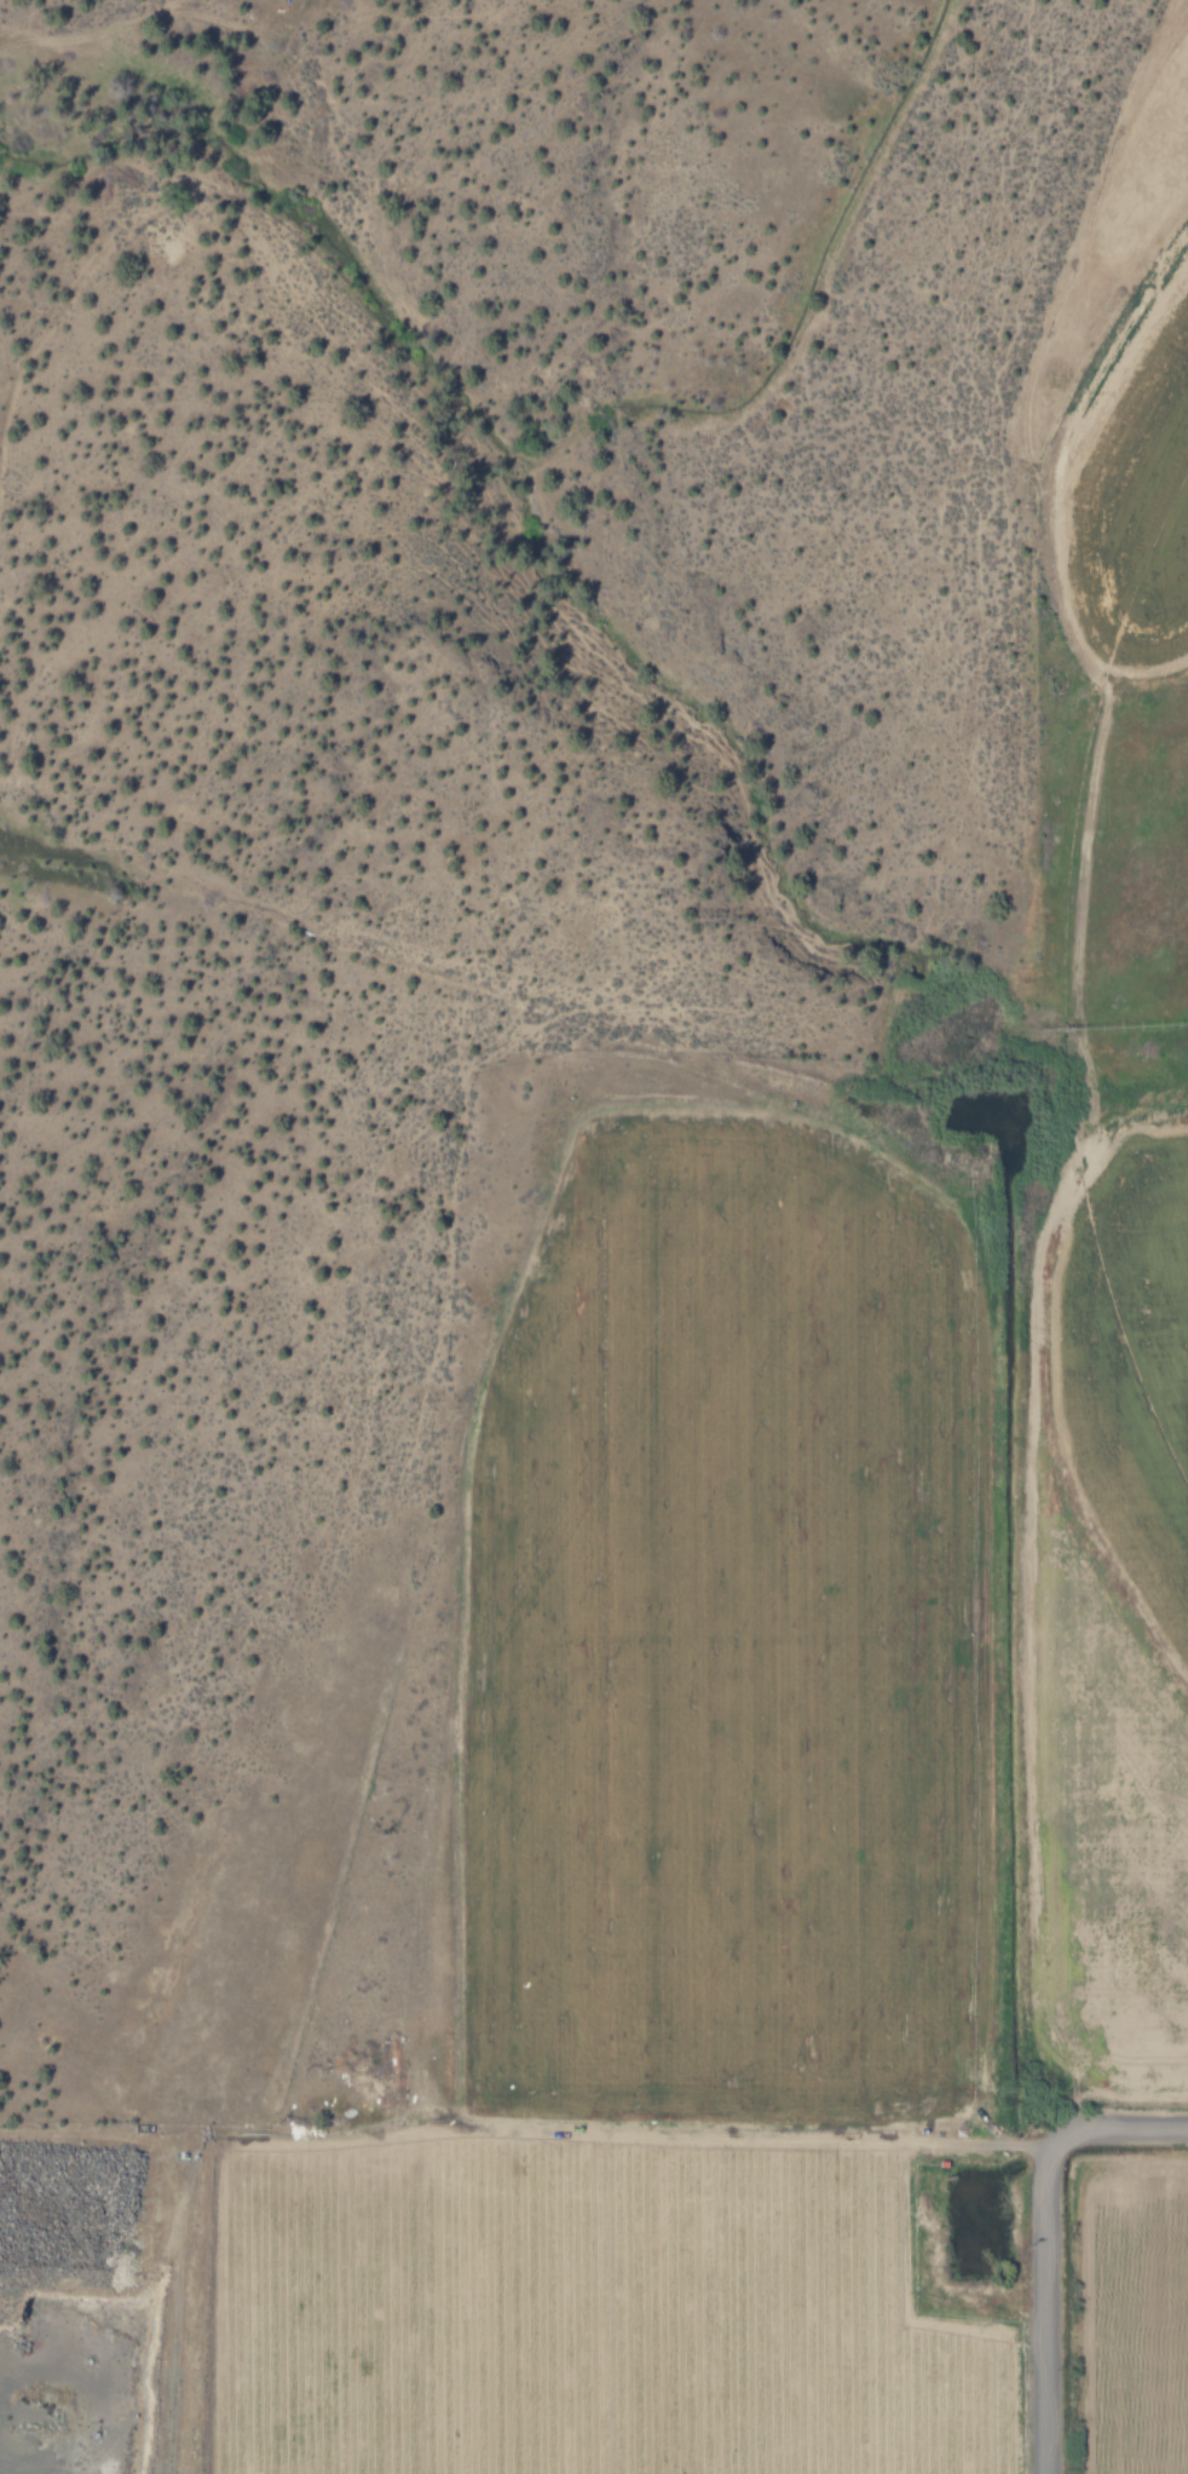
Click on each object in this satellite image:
crop: (1124, 972)
crop: (697, 1903)
road: (1114, 2124)
quarry: (96, 2291)
road: (1048, 2309)

